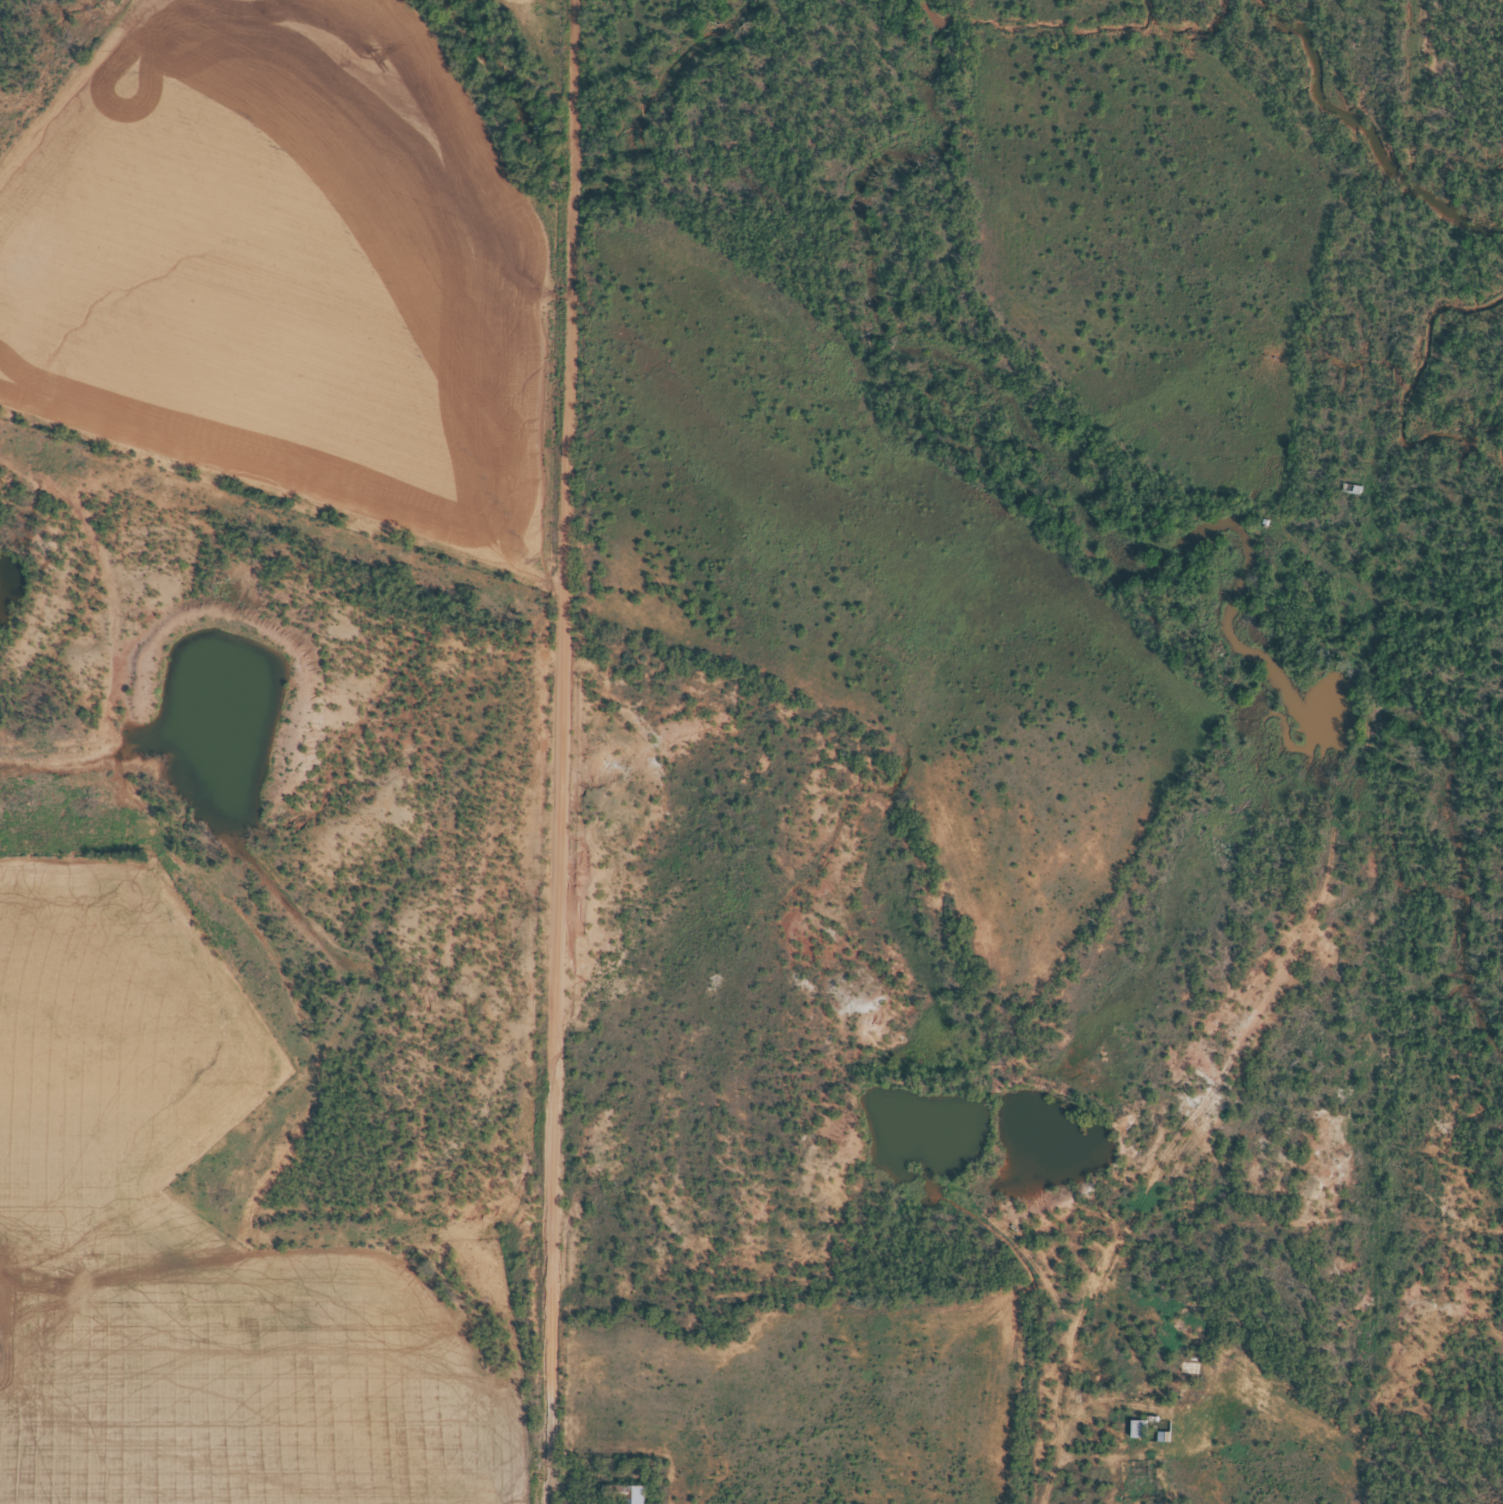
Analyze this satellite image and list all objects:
road: (535, 752)
building: (1139, 1429)
building: (624, 1494)

